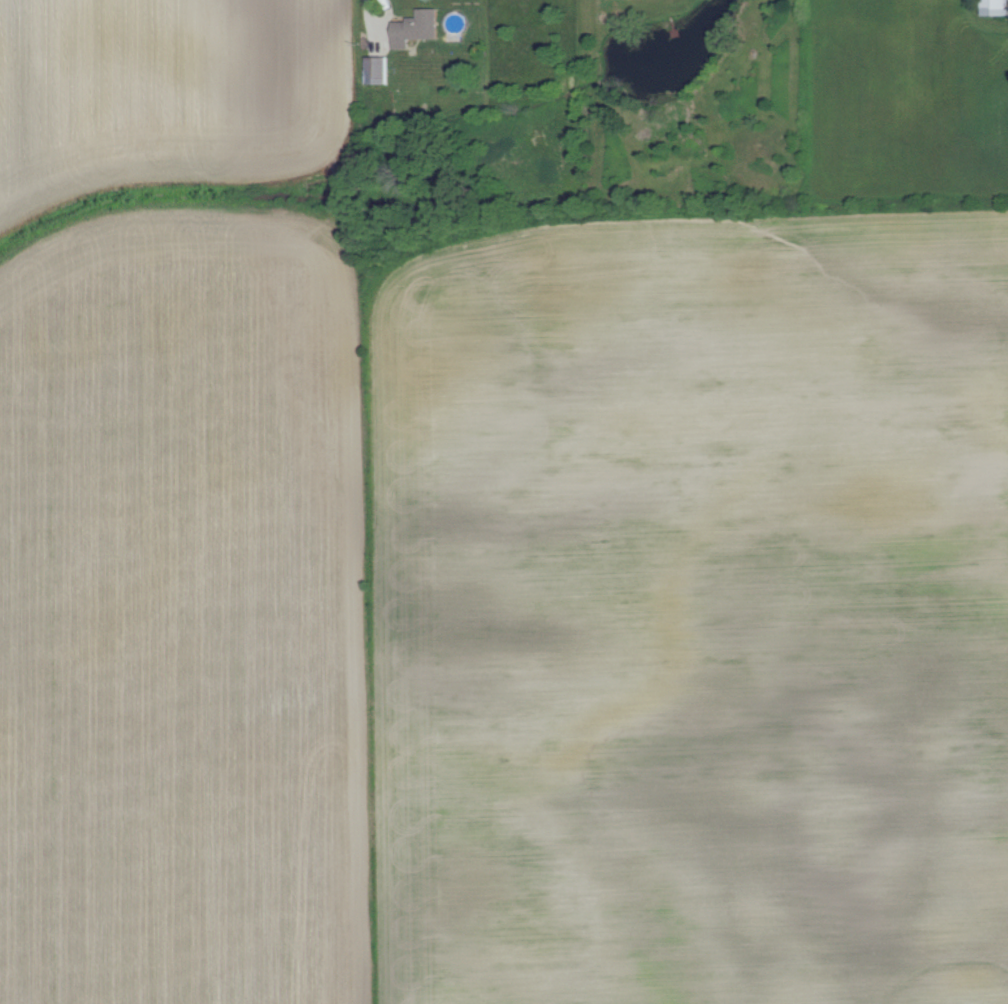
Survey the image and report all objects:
building: (998, 7)
road: (375, 15)
building: (419, 27)

